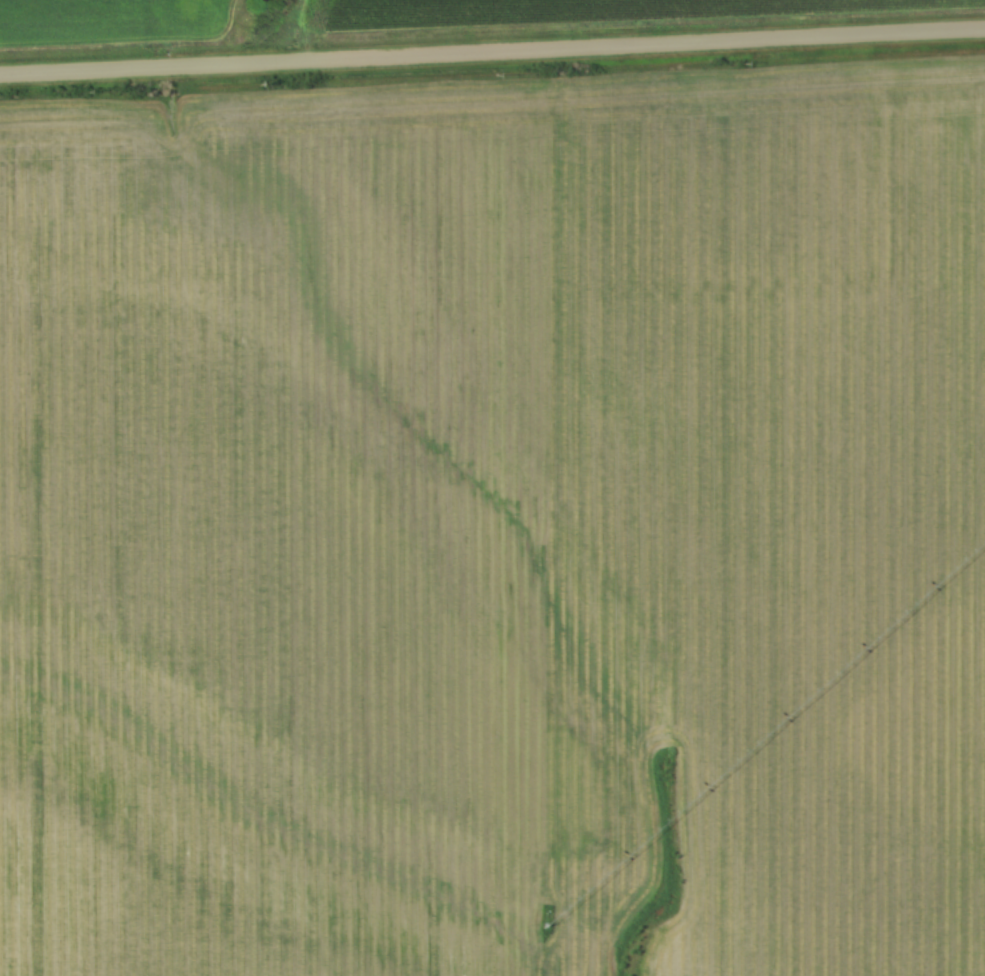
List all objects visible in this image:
crop: (581, 12)
crop: (108, 21)
road: (492, 53)
crop: (715, 440)
crop: (259, 624)

